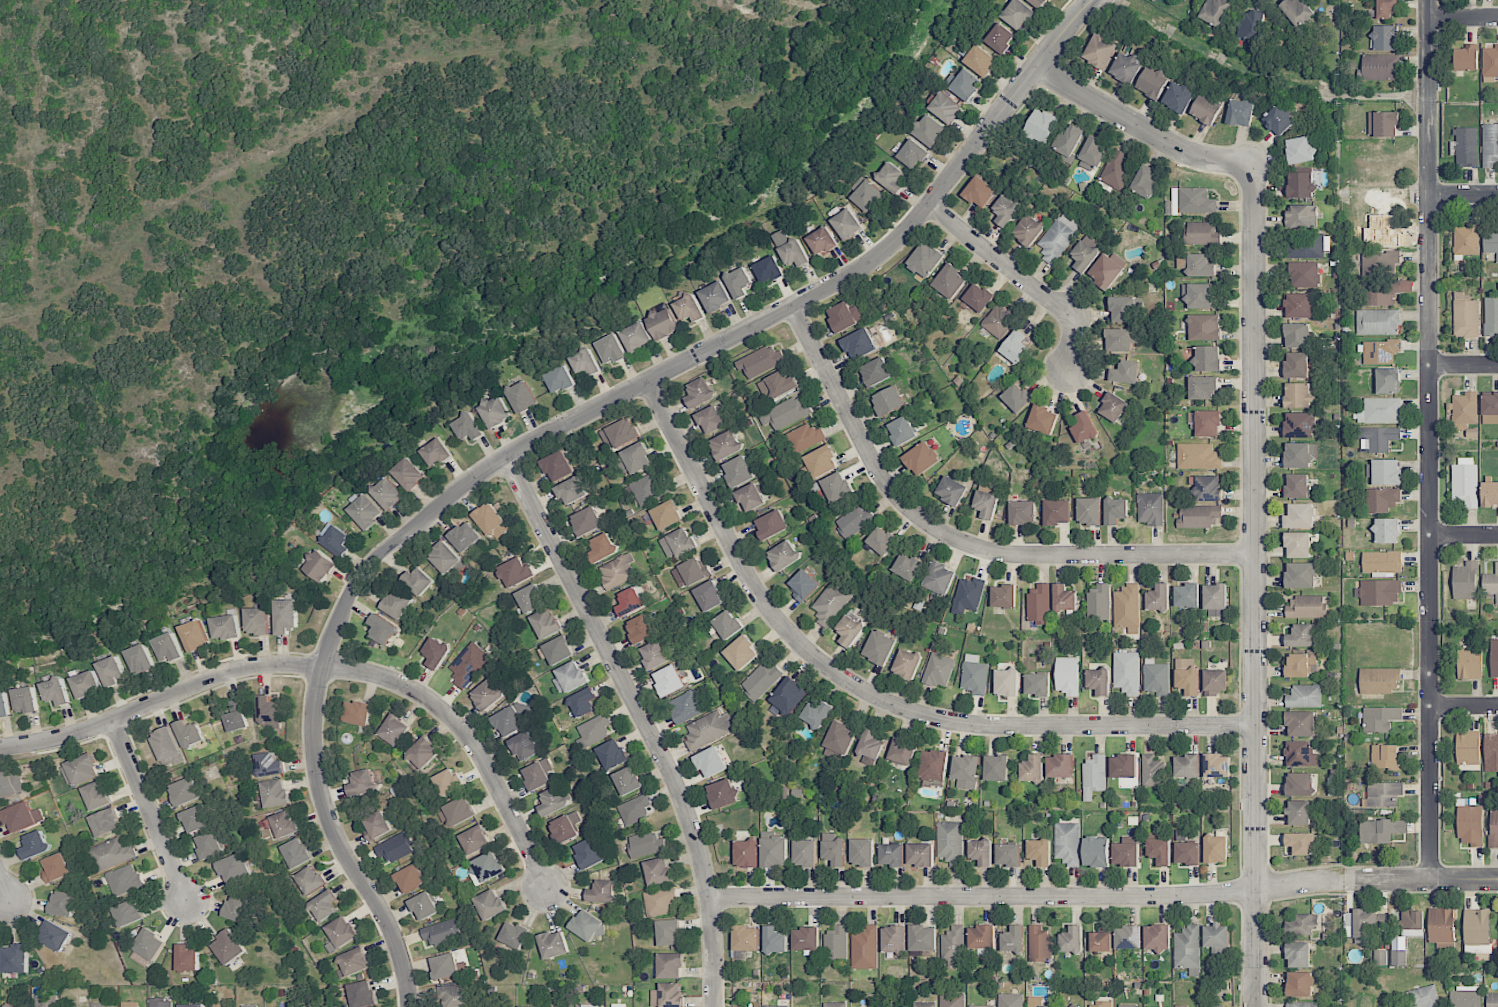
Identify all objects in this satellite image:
building: (1038, 3)
building: (1386, 8)
building: (1215, 11)
building: (1296, 11)
building: (1018, 14)
road: (1462, 19)
building: (1251, 27)
building: (1385, 37)
building: (1000, 38)
building: (1101, 50)
building: (1467, 58)
building: (980, 60)
building: (1490, 61)
building: (1379, 67)
building: (1126, 68)
building: (1152, 83)
building: (966, 84)
building: (1178, 97)
building: (945, 107)
building: (1206, 108)
building: (1240, 113)
building: (1278, 120)
building: (1383, 124)
building: (1042, 126)
building: (929, 130)
building: (1069, 140)
building: (1490, 145)
building: (1466, 147)
building: (1300, 150)
building: (912, 154)
building: (1092, 154)
building: (1118, 169)
building: (891, 177)
building: (1146, 181)
building: (1301, 185)
building: (980, 192)
road: (1463, 194)
building: (867, 196)
building: (1191, 201)
building: (1007, 208)
building: (1301, 216)
building: (847, 224)
building: (1028, 230)
building: (1201, 233)
building: (1059, 236)
building: (1466, 239)
building: (822, 241)
building: (1491, 241)
building: (790, 249)
building: (1085, 254)
building: (924, 260)
building: (1380, 262)
building: (1199, 266)
building: (768, 269)
building: (1105, 272)
building: (1305, 274)
road: (1021, 279)
building: (949, 281)
building: (739, 282)
building: (1384, 292)
building: (1200, 295)
building: (715, 297)
building: (978, 297)
building: (1299, 305)
building: (689, 308)
building: (1123, 309)
building: (845, 315)
building: (1466, 316)
building: (1491, 317)
building: (998, 322)
building: (1377, 322)
building: (663, 324)
building: (1205, 327)
building: (1297, 335)
building: (637, 337)
building: (1119, 340)
building: (859, 344)
building: (1015, 347)
building: (612, 349)
building: (1380, 351)
building: (1205, 357)
building: (760, 361)
building: (585, 363)
building: (1296, 365)
road: (1463, 366)
building: (876, 372)
building: (1125, 372)
building: (559, 379)
building: (1388, 381)
building: (777, 386)
building: (1203, 388)
building: (699, 392)
building: (1298, 395)
building: (521, 397)
building: (1016, 397)
building: (888, 401)
building: (1113, 407)
building: (1464, 409)
building: (1490, 409)
building: (495, 411)
building: (1380, 411)
building: (786, 413)
building: (710, 420)
building: (1042, 420)
building: (1208, 423)
building: (1299, 425)
building: (467, 427)
building: (1083, 427)
building: (902, 430)
road: (553, 431)
building: (619, 434)
building: (805, 437)
building: (1379, 438)
road: (1428, 440)
building: (725, 445)
building: (436, 453)
building: (1299, 454)
building: (1198, 456)
building: (921, 458)
building: (635, 459)
building: (821, 461)
building: (557, 466)
road: (1252, 467)
building: (738, 471)
building: (1386, 472)
building: (408, 473)
building: (1465, 484)
building: (1208, 486)
building: (1297, 486)
building: (836, 487)
building: (646, 489)
building: (571, 490)
building: (951, 490)
building: (387, 493)
building: (1490, 493)
building: (750, 497)
building: (1383, 499)
building: (986, 503)
building: (1150, 508)
building: (1089, 511)
building: (1115, 511)
building: (365, 512)
building: (1023, 512)
building: (1057, 512)
building: (666, 515)
building: (1199, 516)
building: (1300, 516)
building: (491, 521)
building: (586, 521)
building: (854, 521)
building: (771, 525)
building: (1387, 530)
road: (1463, 536)
building: (464, 537)
building: (335, 540)
building: (881, 542)
road: (960, 542)
building: (677, 543)
building: (1297, 544)
building: (601, 548)
building: (783, 555)
building: (444, 557)
building: (1382, 561)
building: (320, 566)
building: (907, 566)
building: (617, 571)
building: (693, 571)
building: (515, 572)
building: (1300, 575)
building: (939, 577)
building: (418, 581)
building: (1465, 581)
building: (1491, 584)
building: (803, 585)
building: (1379, 592)
building: (968, 594)
building: (1187, 595)
building: (709, 596)
building: (1003, 596)
building: (1064, 598)
building: (1158, 598)
building: (530, 599)
building: (1215, 600)
building: (629, 601)
building: (1098, 602)
building: (397, 603)
building: (831, 603)
building: (1039, 604)
building: (1126, 606)
building: (1306, 607)
building: (285, 616)
building: (257, 621)
building: (545, 623)
building: (727, 624)
building: (226, 627)
building: (382, 629)
building: (640, 629)
building: (849, 630)
building: (1300, 635)
building: (195, 636)
building: (879, 647)
building: (169, 648)
building: (558, 650)
building: (436, 652)
building: (741, 653)
building: (654, 655)
building: (1494, 657)
building: (140, 659)
building: (1470, 662)
building: (1299, 664)
building: (469, 665)
building: (906, 665)
road: (325, 666)
building: (938, 670)
building: (111, 671)
building: (1126, 673)
building: (974, 675)
building: (1067, 675)
building: (1187, 675)
building: (570, 677)
building: (1156, 677)
building: (669, 680)
building: (1379, 680)
building: (761, 681)
building: (1098, 681)
building: (1215, 681)
building: (1006, 683)
building: (86, 684)
building: (1037, 684)
building: (56, 691)
building: (487, 694)
road: (868, 695)
building: (1304, 695)
building: (789, 696)
building: (25, 700)
building: (583, 702)
building: (4, 704)
building: (686, 706)
road: (1464, 707)
building: (269, 712)
building: (358, 713)
building: (816, 714)
building: (511, 718)
building: (1378, 718)
building: (237, 720)
road: (643, 721)
building: (1300, 724)
building: (594, 729)
building: (708, 729)
building: (394, 730)
building: (189, 733)
building: (838, 741)
building: (870, 744)
building: (524, 745)
building: (167, 747)
building: (1468, 748)
building: (902, 751)
building: (1491, 752)
building: (423, 753)
building: (612, 754)
building: (1301, 754)
building: (1385, 757)
building: (710, 762)
building: (269, 765)
building: (933, 766)
building: (1060, 766)
building: (1123, 766)
building: (1186, 766)
building: (1217, 766)
building: (996, 768)
building: (1032, 768)
building: (80, 770)
building: (965, 771)
building: (1152, 771)
building: (537, 774)
building: (1094, 776)
building: (627, 780)
building: (448, 782)
building: (362, 783)
building: (1299, 784)
building: (10, 785)
building: (185, 791)
building: (275, 793)
building: (723, 793)
building: (1383, 794)
building: (96, 795)
building: (551, 801)
building: (634, 810)
road: (148, 811)
building: (458, 811)
building: (1298, 813)
building: (22, 817)
building: (197, 818)
building: (105, 822)
building: (284, 824)
building: (377, 825)
building: (1470, 825)
building: (1494, 825)
building: (566, 827)
building: (1382, 830)
building: (1185, 837)
building: (475, 840)
building: (646, 843)
building: (950, 843)
building: (1067, 843)
building: (1300, 843)
building: (35, 845)
building: (209, 845)
building: (394, 848)
building: (833, 849)
building: (1216, 849)
building: (773, 850)
building: (1039, 851)
building: (1096, 851)
building: (1159, 851)
building: (804, 852)
building: (862, 852)
building: (981, 852)
building: (1126, 852)
building: (112, 853)
building: (296, 853)
building: (588, 853)
building: (746, 853)
building: (1187, 853)
building: (920, 854)
building: (891, 855)
building: (1008, 855)
building: (56, 867)
building: (485, 867)
building: (234, 868)
building: (658, 871)
building: (410, 878)
building: (123, 880)
building: (310, 880)
road: (4, 889)
building: (602, 892)
road: (1103, 895)
building: (660, 902)
building: (63, 903)
building: (490, 904)
building: (323, 906)
building: (424, 906)
building: (237, 907)
building: (128, 913)
building: (1413, 923)
building: (1306, 924)
building: (1363, 924)
building: (587, 925)
building: (1441, 927)
building: (1477, 931)
building: (441, 932)
building: (669, 932)
building: (340, 933)
building: (54, 935)
building: (514, 935)
building: (1128, 937)
building: (1157, 937)
building: (746, 938)
building: (806, 938)
building: (894, 938)
building: (923, 938)
building: (1216, 938)
building: (1013, 939)
building: (1071, 939)
building: (1101, 939)
building: (775, 940)
building: (982, 940)
building: (149, 944)
building: (553, 944)
building: (836, 944)
building: (1039, 944)
building: (953, 946)
building: (228, 947)
building: (1187, 947)
building: (865, 948)
building: (1398, 951)
building: (1298, 955)
building: (15, 958)
building: (187, 958)
building: (1380, 958)
building: (353, 962)
building: (670, 965)
building: (444, 966)
building: (1299, 983)
building: (362, 994)
building: (668, 995)
building: (453, 996)
building: (1423, 997)
building: (1466, 997)
building: (1492, 999)
building: (952, 1000)
building: (1011, 1000)
building: (44, 1001)
building: (1034, 1001)
building: (160, 1003)
building: (130, 1004)
building: (835, 1004)
building: (924, 1004)
building: (1101, 1004)
building: (1303, 1004)
building: (191, 1005)
building: (25, 1006)
building: (219, 1006)
building: (531, 1006)
building: (584, 1006)
building: (778, 1006)
building: (888, 1006)
building: (982, 1006)

